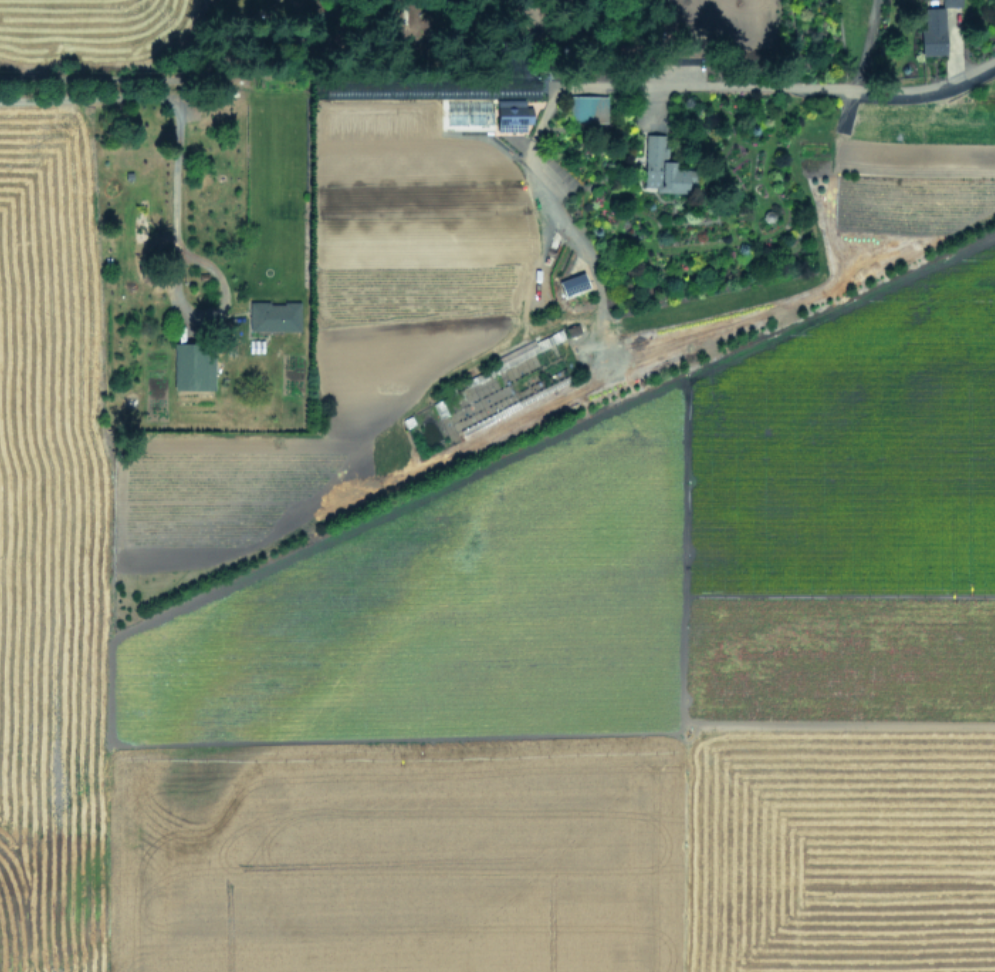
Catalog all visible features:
building: (950, 2)
building: (932, 32)
road: (67, 75)
road: (786, 83)
road: (159, 100)
building: (586, 108)
building: (511, 114)
building: (660, 167)
road: (190, 256)
building: (572, 283)
building: (273, 316)
building: (192, 367)
crop: (490, 537)

